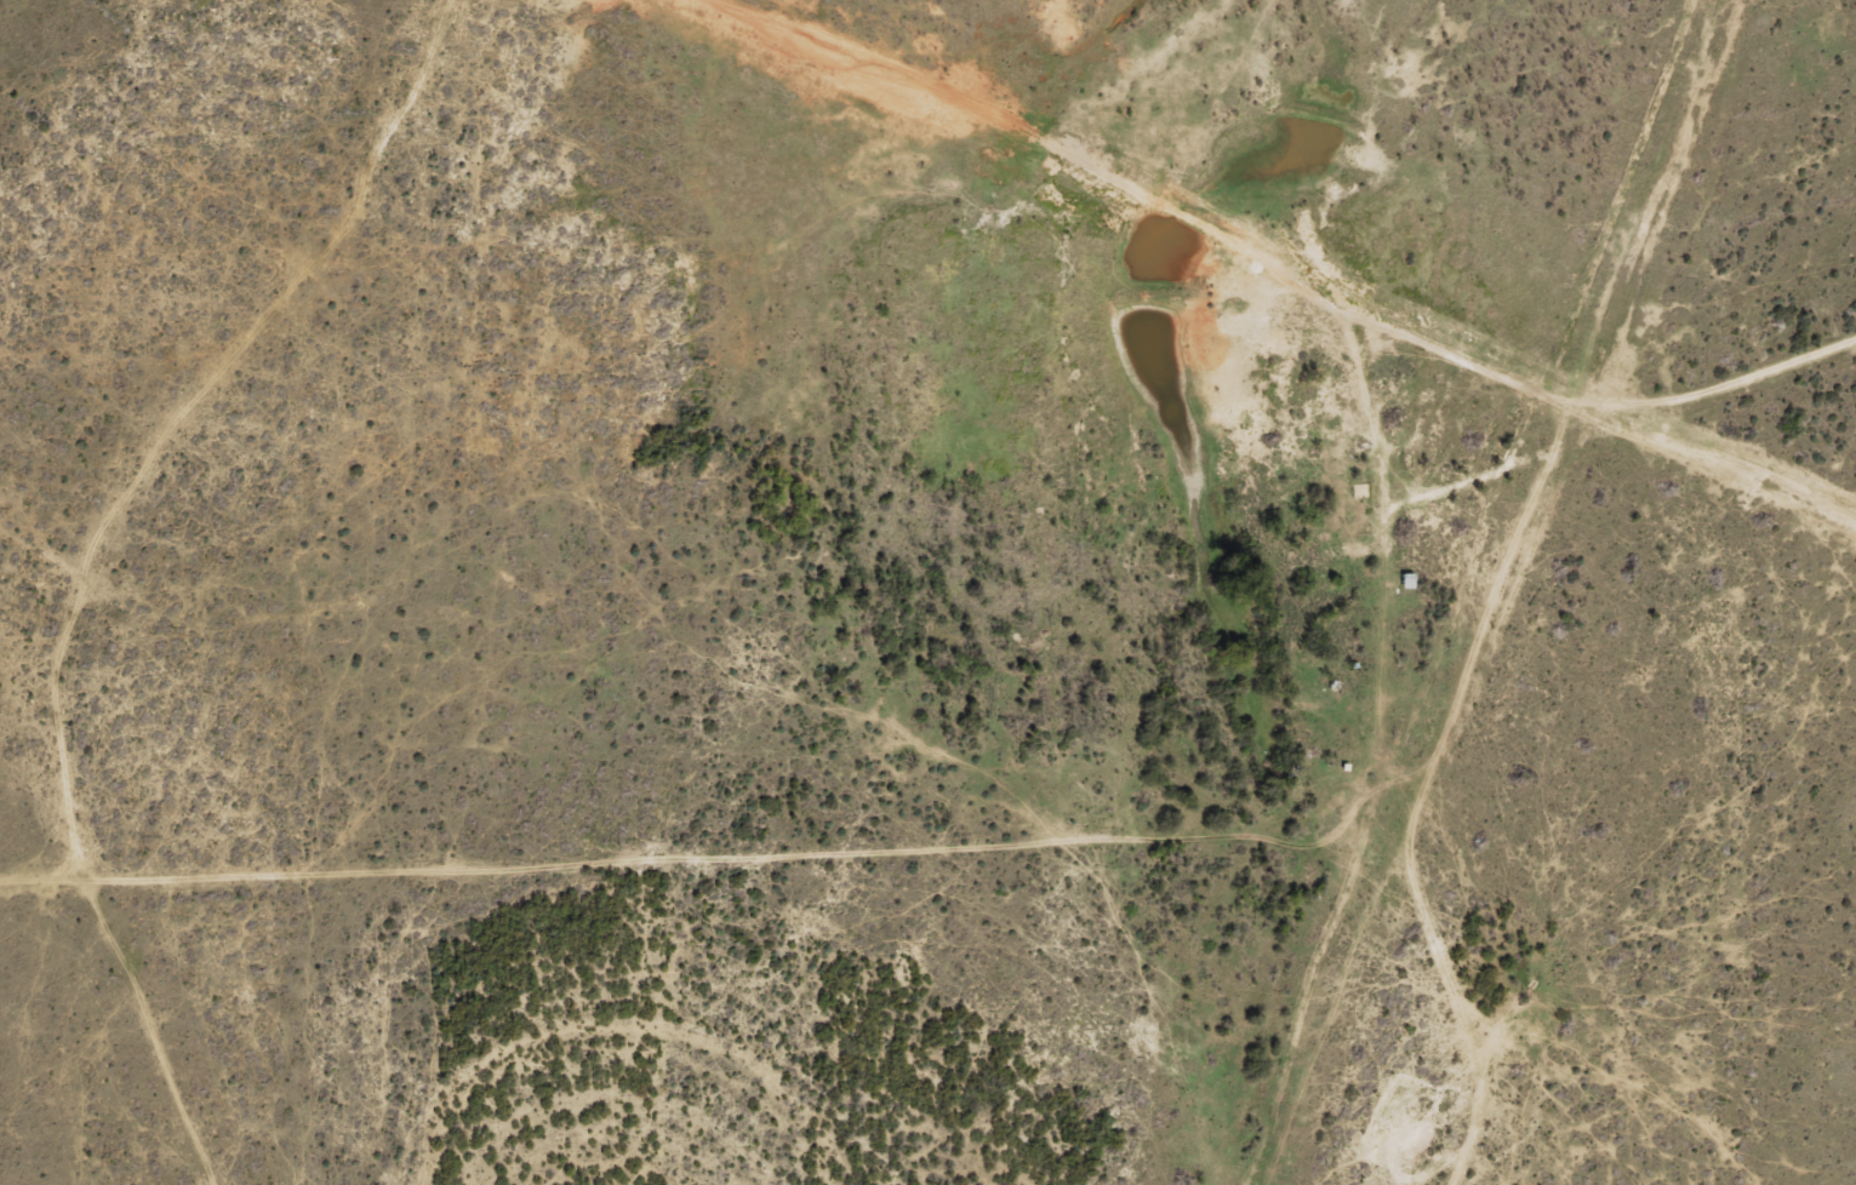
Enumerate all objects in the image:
road: (1474, 334)

